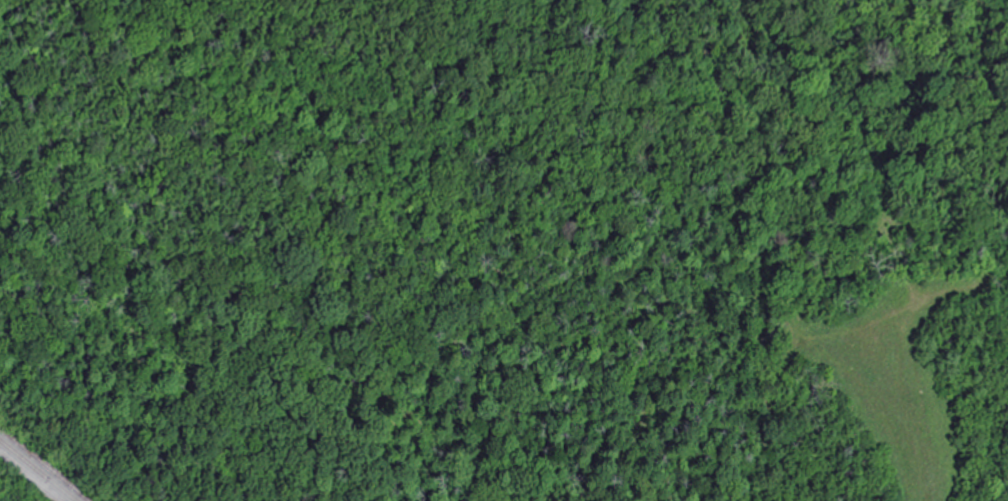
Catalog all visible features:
railway: (35, 472)

